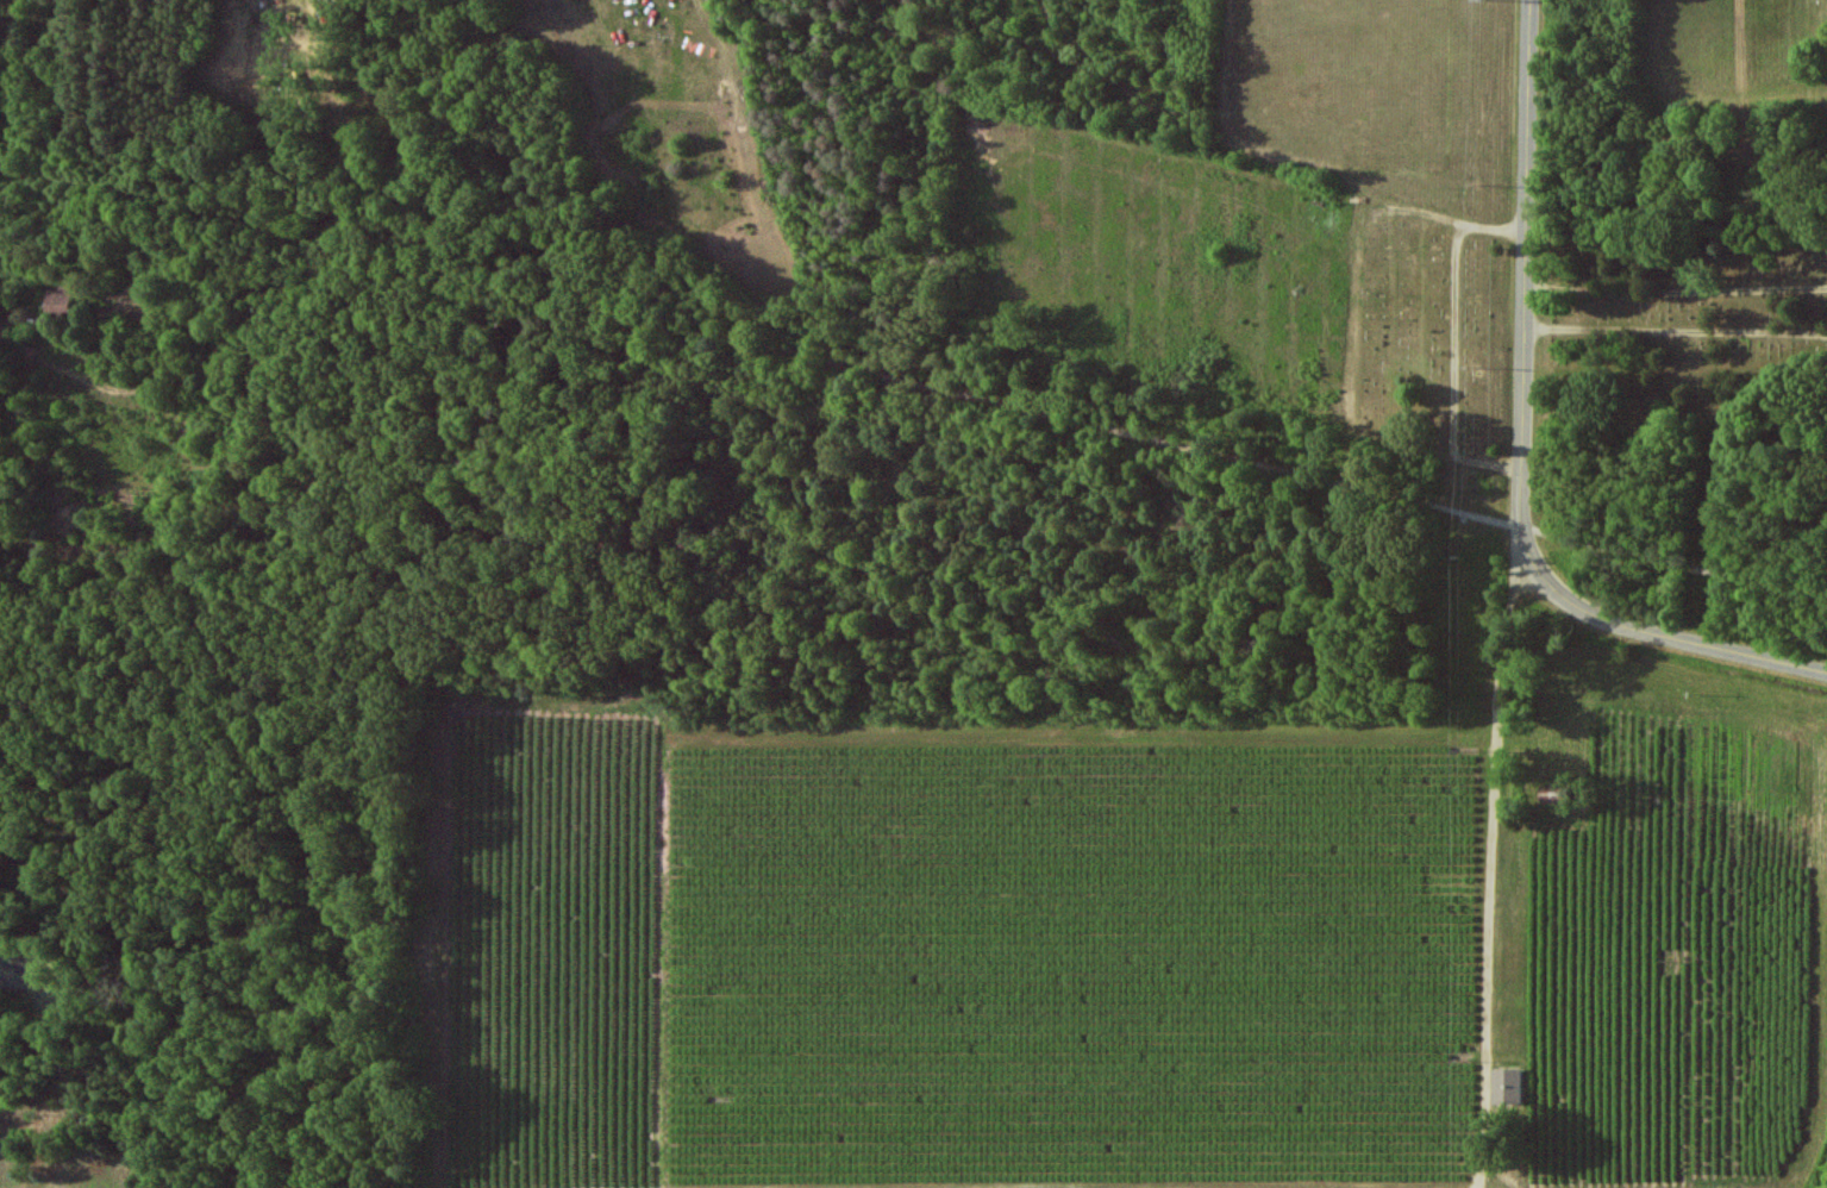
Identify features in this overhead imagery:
road: (1525, 263)
building: (62, 300)
road: (87, 374)
road: (913, 381)
road: (1652, 632)
building: (1552, 794)
building: (1508, 1086)

